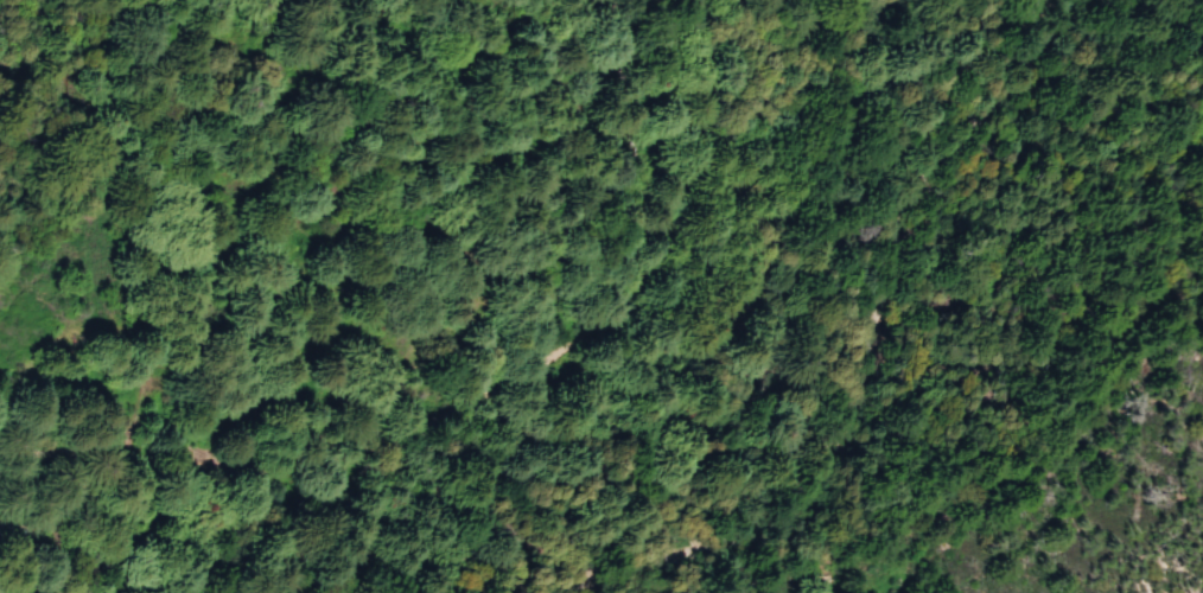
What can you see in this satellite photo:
road: (447, 211)
road: (864, 382)
road: (486, 415)
road: (49, 544)

